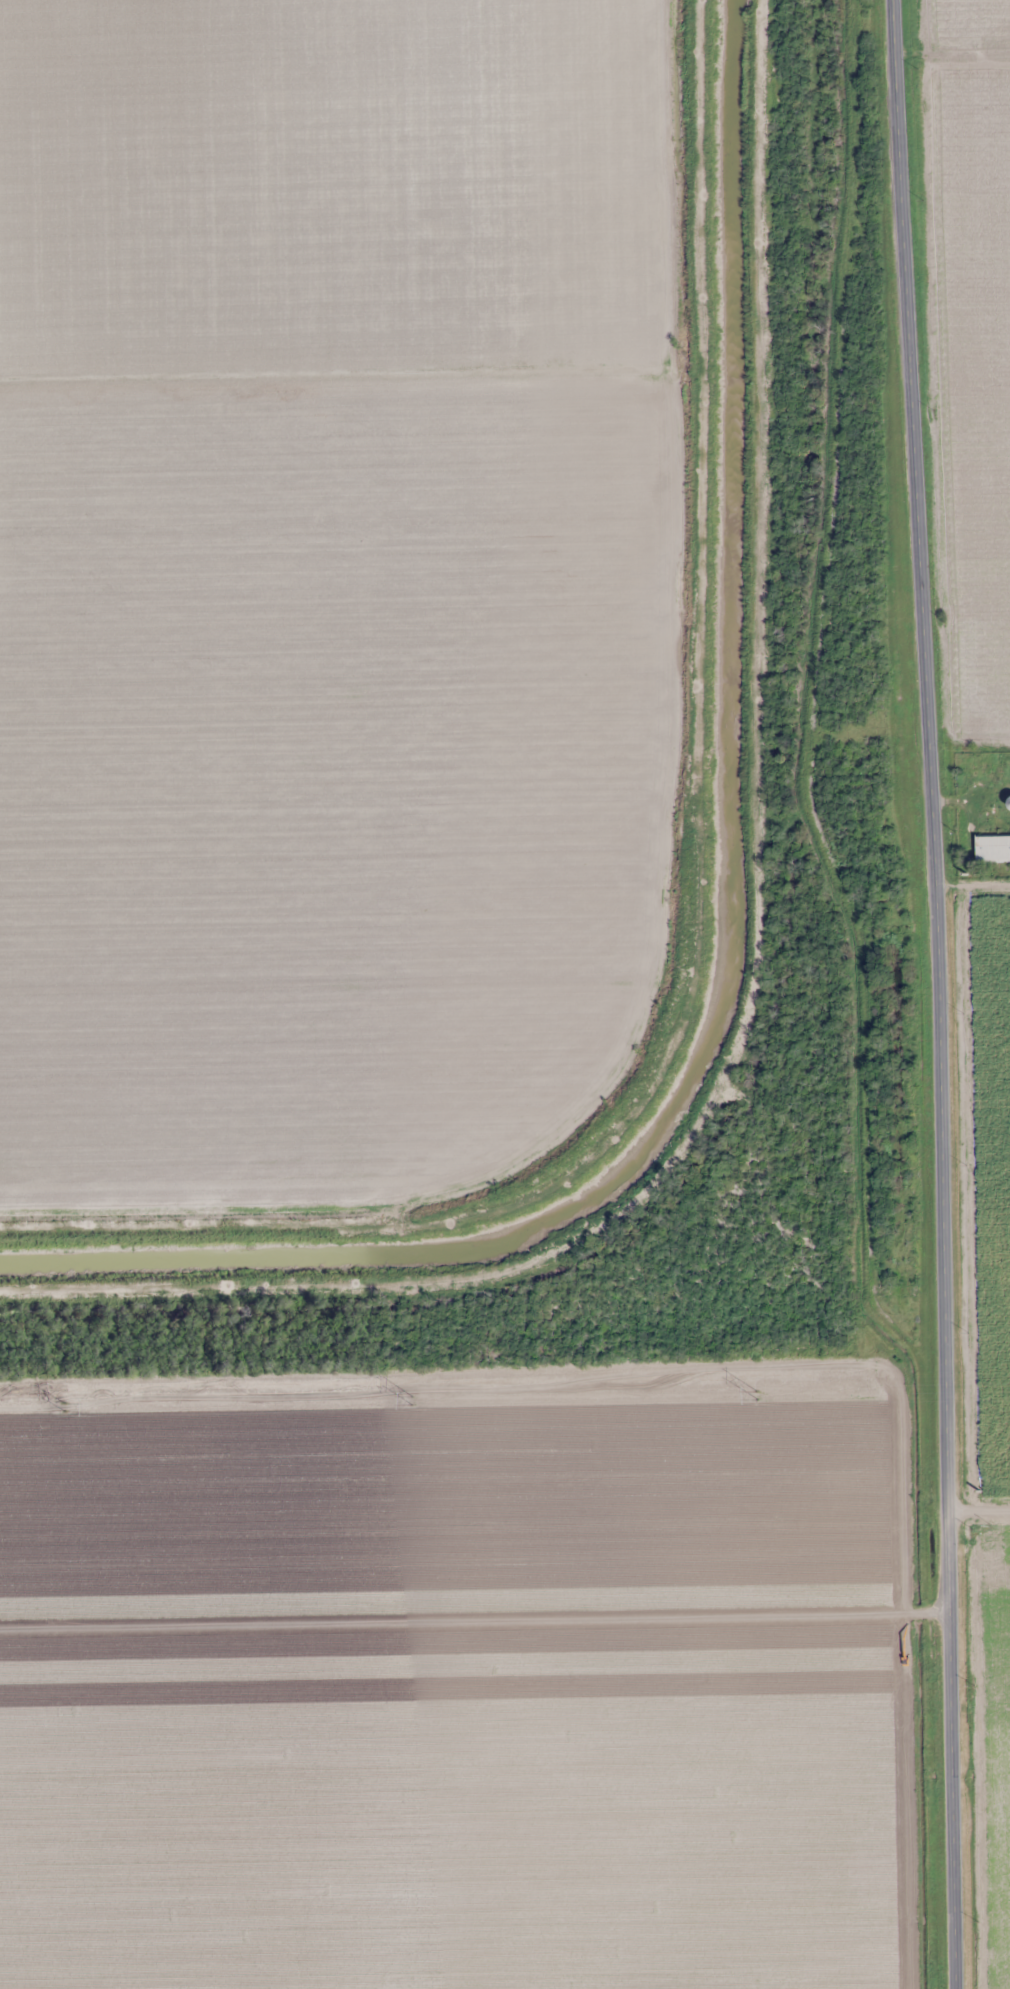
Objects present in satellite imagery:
road: (953, 51)
building: (981, 772)
building: (1009, 801)
building: (993, 848)
road: (942, 993)
power tower: (754, 1394)
power tower: (410, 1399)
power tower: (63, 1405)
road: (980, 1515)
road: (476, 1623)

